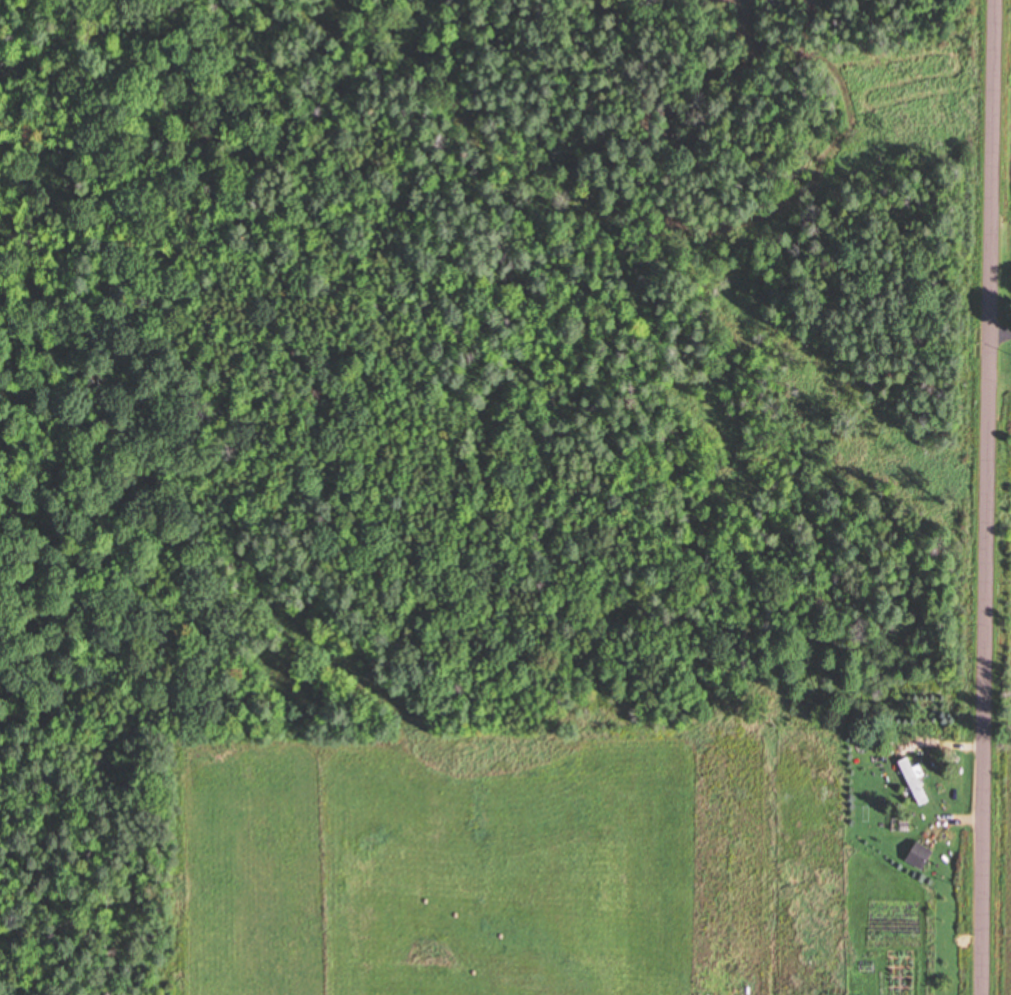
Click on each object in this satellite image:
road: (990, 497)
building: (917, 781)
building: (922, 857)

